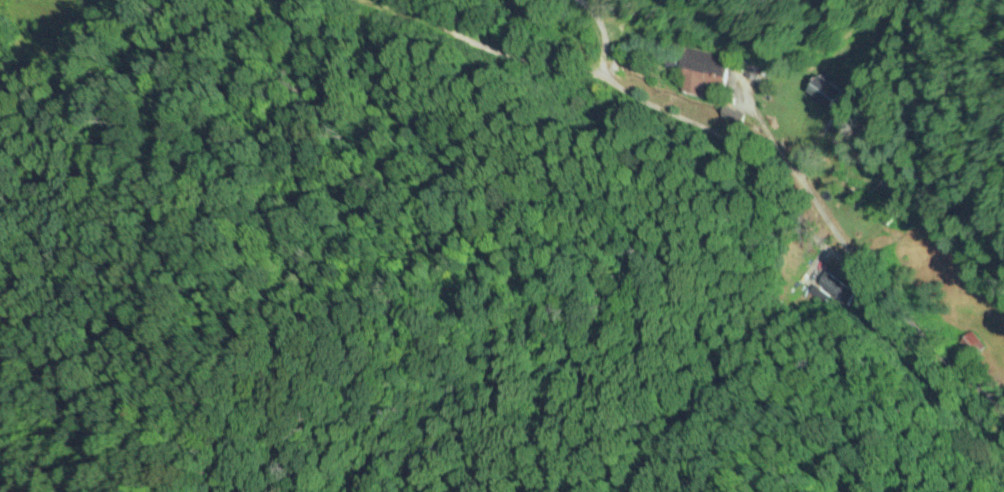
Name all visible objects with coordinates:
building: (708, 69)
building: (828, 92)
road: (813, 235)
building: (972, 346)

